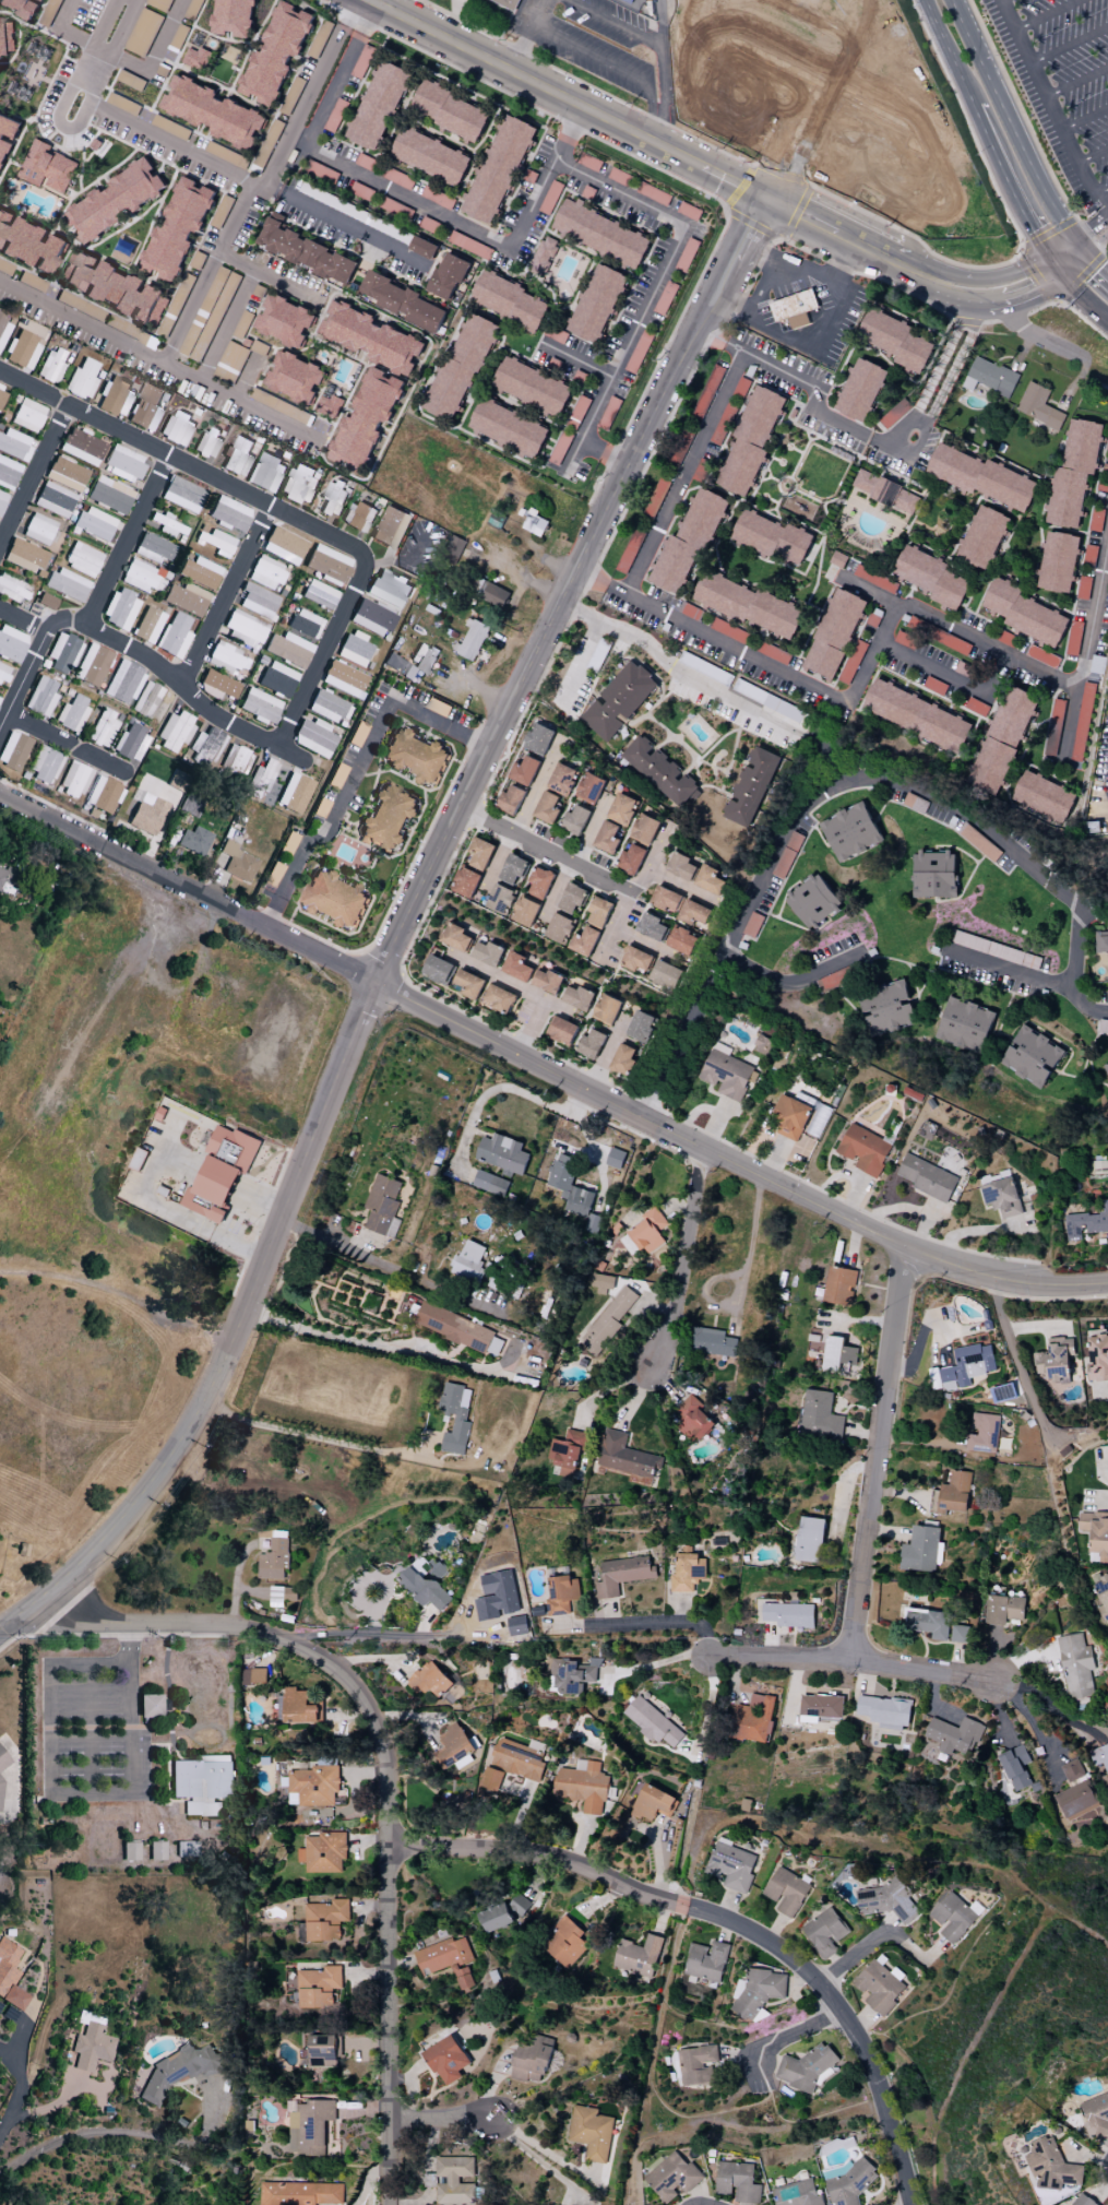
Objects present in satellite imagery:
building: (628, 1)
building: (508, 3)
building: (159, 4)
park: (755, 4)
building: (20, 7)
track: (754, 7)
building: (192, 8)
building: (48, 12)
road: (63, 13)
road: (13, 14)
road: (1046, 14)
building: (236, 16)
road: (456, 21)
road: (613, 23)
road: (659, 23)
road: (504, 24)
building: (142, 32)
road: (526, 35)
road: (78, 36)
building: (5, 37)
road: (22, 37)
parking lot: (600, 44)
road: (1069, 44)
building: (279, 46)
road: (154, 50)
road: (588, 52)
road: (945, 54)
building: (194, 58)
road: (336, 73)
road: (714, 74)
road: (663, 81)
road: (1077, 81)
building: (290, 95)
road: (1047, 96)
road: (650, 98)
road: (303, 99)
building: (378, 105)
building: (449, 110)
building: (216, 112)
building: (335, 115)
road: (1085, 118)
road: (834, 120)
road: (648, 126)
road: (1009, 126)
building: (8, 128)
road: (70, 128)
road: (23, 130)
road: (164, 140)
road: (653, 142)
building: (267, 143)
parking lot: (853, 152)
road: (1093, 155)
building: (429, 156)
building: (366, 163)
building: (46, 167)
building: (499, 167)
building: (396, 177)
road: (863, 177)
road: (772, 183)
road: (1006, 188)
road: (1101, 190)
building: (653, 193)
building: (119, 197)
building: (436, 197)
road: (1101, 202)
building: (393, 208)
building: (183, 222)
road: (339, 224)
road: (1088, 229)
road: (474, 230)
building: (600, 234)
building: (33, 244)
road: (1094, 244)
building: (468, 245)
road: (736, 246)
building: (422, 247)
traffic signals: (1077, 248)
building: (305, 250)
road: (1065, 256)
building: (684, 257)
building: (546, 258)
road: (789, 261)
road: (1093, 261)
traffic signals: (1055, 263)
road: (241, 264)
road: (1049, 266)
building: (5, 269)
road: (992, 272)
building: (446, 276)
building: (115, 287)
road: (1013, 288)
road: (960, 289)
building: (257, 291)
road: (656, 291)
road: (1079, 295)
building: (664, 297)
building: (509, 301)
building: (403, 303)
building: (596, 303)
building: (175, 304)
road: (974, 305)
building: (793, 308)
road: (191, 309)
road: (704, 310)
building: (209, 313)
building: (102, 318)
building: (283, 321)
building: (241, 323)
road: (228, 327)
building: (3, 329)
road: (712, 333)
road: (1032, 333)
building: (370, 337)
building: (894, 340)
road: (809, 341)
road: (736, 346)
building: (22, 351)
road: (159, 361)
building: (229, 361)
road: (576, 363)
road: (940, 364)
building: (50, 367)
building: (460, 367)
road: (950, 370)
building: (989, 377)
building: (294, 378)
building: (82, 380)
building: (532, 387)
building: (742, 388)
building: (859, 389)
road: (815, 390)
building: (706, 391)
building: (2, 395)
building: (115, 398)
building: (327, 405)
building: (1038, 406)
building: (146, 408)
building: (894, 412)
building: (727, 414)
building: (27, 416)
building: (364, 420)
building: (508, 428)
building: (177, 429)
road: (895, 437)
building: (749, 439)
building: (206, 442)
building: (1107, 443)
building: (14, 446)
building: (82, 448)
building: (679, 450)
road: (605, 452)
building: (237, 457)
building: (123, 464)
building: (700, 469)
road: (189, 470)
road: (684, 472)
building: (265, 473)
building: (1073, 473)
building: (8, 474)
building: (67, 475)
road: (33, 477)
building: (981, 477)
building: (299, 484)
building: (885, 491)
building: (182, 495)
building: (110, 496)
building: (332, 497)
building: (654, 498)
building: (2, 500)
building: (53, 500)
building: (229, 515)
building: (358, 517)
building: (95, 525)
building: (390, 527)
building: (38, 530)
building: (772, 537)
building: (981, 537)
building: (285, 543)
road: (128, 544)
building: (216, 544)
building: (687, 544)
building: (454, 545)
building: (153, 549)
building: (629, 550)
building: (24, 556)
building: (837, 559)
building: (83, 560)
building: (1058, 561)
building: (327, 565)
building: (200, 573)
building: (266, 573)
building: (139, 577)
road: (591, 577)
building: (875, 578)
building: (932, 578)
building: (67, 585)
building: (1082, 586)
road: (616, 589)
road: (869, 589)
building: (389, 590)
building: (14, 591)
building: (319, 595)
building: (493, 595)
building: (186, 600)
road: (224, 600)
building: (47, 602)
building: (259, 602)
building: (747, 604)
building: (120, 609)
road: (892, 613)
building: (1024, 613)
building: (372, 618)
building: (305, 625)
building: (147, 626)
building: (246, 629)
building: (833, 633)
building: (174, 638)
building: (943, 638)
building: (1072, 638)
building: (470, 639)
building: (12, 644)
building: (354, 650)
building: (288, 651)
building: (772, 652)
building: (63, 653)
building: (226, 659)
building: (426, 660)
road: (581, 660)
building: (850, 661)
road: (319, 663)
building: (1096, 664)
building: (93, 665)
building: (398, 666)
road: (155, 667)
road: (677, 668)
building: (3, 674)
road: (952, 676)
building: (277, 680)
building: (345, 680)
road: (23, 684)
building: (123, 684)
building: (219, 685)
building: (933, 685)
building: (41, 698)
building: (146, 700)
building: (618, 700)
building: (437, 706)
building: (259, 707)
building: (330, 707)
building: (72, 714)
building: (916, 715)
road: (1068, 715)
building: (1081, 722)
building: (1052, 727)
building: (103, 730)
building: (175, 732)
building: (357, 734)
building: (314, 738)
road: (467, 738)
building: (538, 738)
building: (1001, 740)
building: (131, 744)
road: (68, 747)
building: (205, 748)
building: (13, 751)
building: (414, 756)
building: (860, 760)
building: (235, 761)
building: (45, 767)
building: (524, 770)
building: (659, 771)
road: (355, 778)
building: (562, 779)
building: (74, 780)
building: (260, 781)
building: (177, 782)
building: (751, 786)
building: (589, 787)
building: (295, 794)
building: (103, 795)
building: (1043, 796)
building: (510, 799)
building: (191, 806)
building: (546, 807)
road: (802, 807)
building: (321, 808)
building: (622, 808)
building: (146, 814)
building: (388, 818)
building: (575, 819)
building: (644, 829)
building: (849, 831)
building: (607, 835)
building: (195, 841)
building: (977, 841)
road: (547, 851)
building: (479, 853)
building: (787, 854)
building: (630, 858)
building: (238, 863)
building: (680, 866)
building: (512, 868)
building: (933, 874)
building: (708, 879)
building: (538, 881)
building: (8, 882)
building: (464, 882)
road: (634, 894)
building: (571, 898)
building: (498, 899)
building: (664, 899)
building: (333, 900)
building: (812, 901)
building: (523, 911)
building: (598, 911)
building: (692, 912)
road: (272, 913)
building: (650, 926)
building: (558, 927)
building: (456, 937)
building: (680, 940)
building: (1100, 940)
building: (583, 941)
building: (992, 949)
building: (488, 952)
building: (634, 959)
building: (517, 967)
building: (438, 969)
building: (664, 974)
road: (791, 979)
building: (548, 981)
road: (1046, 981)
building: (829, 983)
building: (469, 984)
road: (525, 991)
road: (369, 996)
building: (577, 997)
building: (500, 998)
road: (1084, 1005)
building: (606, 1008)
building: (886, 1008)
building: (965, 1024)
building: (640, 1026)
building: (1103, 1026)
building: (561, 1030)
building: (591, 1044)
building: (763, 1044)
building: (1032, 1056)
road: (607, 1057)
building: (623, 1059)
building: (1106, 1068)
building: (724, 1071)
road: (545, 1074)
road: (492, 1090)
building: (789, 1116)
road: (593, 1146)
building: (863, 1150)
building: (501, 1153)
building: (613, 1158)
building: (1099, 1166)
building: (219, 1172)
building: (927, 1177)
building: (490, 1183)
building: (568, 1185)
building: (1001, 1197)
building: (381, 1206)
building: (1025, 1212)
building: (592, 1221)
building: (1086, 1223)
building: (647, 1231)
building: (468, 1261)
road: (682, 1261)
road: (391, 1267)
road: (736, 1273)
building: (499, 1282)
building: (600, 1282)
building: (838, 1285)
building: (607, 1320)
building: (457, 1328)
road: (1011, 1331)
building: (712, 1341)
road: (383, 1348)
building: (837, 1353)
building: (1097, 1358)
building: (1055, 1360)
building: (963, 1366)
road: (634, 1397)
building: (820, 1415)
building: (454, 1416)
building: (692, 1419)
building: (982, 1433)
road: (313, 1434)
building: (565, 1454)
building: (624, 1455)
road: (877, 1455)
building: (950, 1494)
building: (1095, 1534)
building: (809, 1539)
building: (919, 1548)
building: (274, 1557)
building: (687, 1572)
building: (621, 1574)
building: (425, 1586)
building: (561, 1593)
building: (275, 1596)
building: (496, 1596)
building: (1101, 1598)
building: (1003, 1609)
building: (788, 1614)
road: (643, 1622)
building: (927, 1622)
road: (1, 1628)
road: (390, 1633)
building: (958, 1634)
road: (654, 1661)
road: (849, 1661)
building: (1075, 1665)
building: (570, 1674)
building: (253, 1675)
building: (429, 1680)
road: (172, 1703)
building: (821, 1705)
building: (297, 1707)
building: (154, 1709)
building: (884, 1710)
building: (753, 1718)
road: (1028, 1720)
building: (651, 1721)
road: (93, 1730)
road: (108, 1730)
parking lot: (95, 1732)
building: (953, 1735)
building: (453, 1745)
road: (164, 1747)
building: (1099, 1756)
building: (516, 1759)
building: (3, 1761)
road: (172, 1765)
building: (1015, 1766)
road: (385, 1778)
building: (490, 1778)
building: (313, 1782)
building: (205, 1785)
building: (582, 1786)
road: (170, 1787)
road: (74, 1795)
building: (1076, 1795)
road: (182, 1803)
building: (653, 1803)
building: (190, 1851)
building: (160, 1852)
building: (322, 1852)
building: (134, 1853)
road: (538, 1856)
building: (730, 1865)
building: (785, 1890)
building: (886, 1899)
building: (519, 1900)
building: (495, 1917)
building: (952, 1917)
building: (323, 1921)
building: (823, 1932)
building: (563, 1942)
road: (854, 1951)
building: (638, 1956)
building: (446, 1959)
building: (705, 1960)
building: (10, 1977)
building: (878, 1985)
building: (318, 1987)
building: (756, 1992)
road: (846, 2016)
road: (807, 2027)
building: (92, 2047)
building: (323, 2051)
building: (446, 2060)
building: (532, 2060)
building: (695, 2064)
building: (805, 2070)
building: (179, 2071)
road: (19, 2090)
building: (1095, 2115)
road: (440, 2119)
building: (308, 2126)
road: (123, 2132)
building: (591, 2132)
road: (544, 2150)
road: (536, 2161)
building: (1050, 2166)
road: (1104, 2168)
building: (670, 2176)
building: (451, 2180)
building: (736, 2181)
building: (847, 2184)
building: (300, 2193)
building: (801, 2194)
road: (699, 2200)
building: (1082, 2200)
building: (562, 2204)

